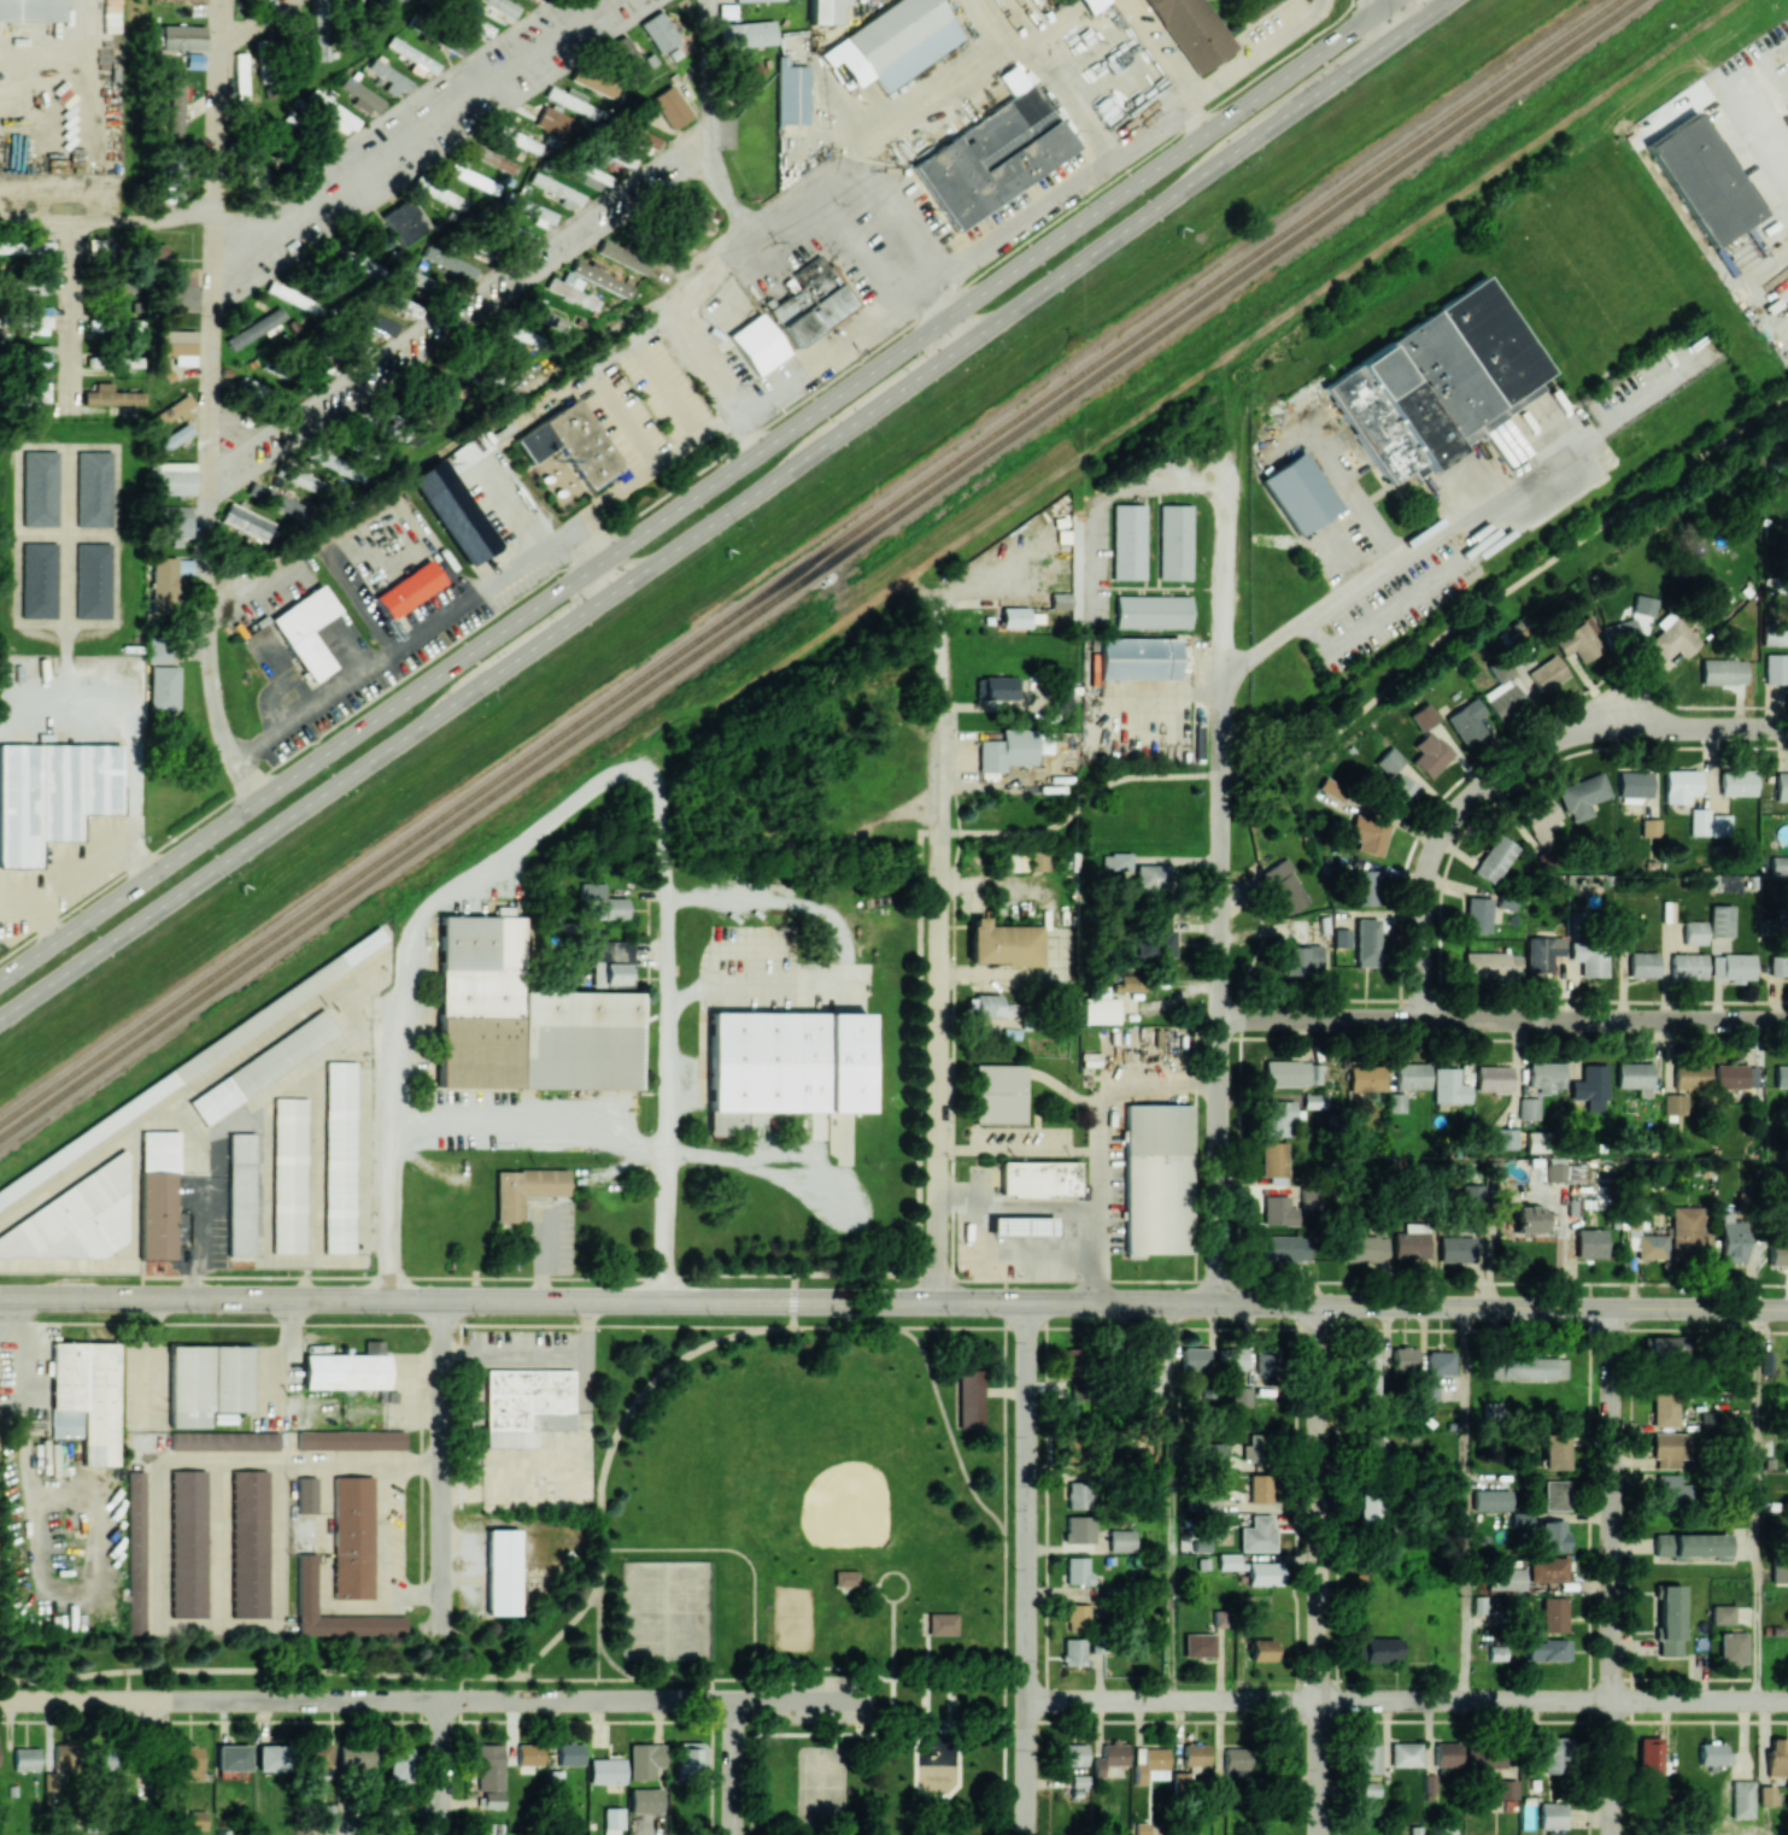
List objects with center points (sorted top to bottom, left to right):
building: (246, 0)
building: (745, 0)
building: (346, 2)
building: (1092, 4)
building: (30, 10)
building: (500, 10)
building: (825, 11)
road: (1391, 16)
road: (250, 19)
building: (658, 31)
building: (1194, 31)
building: (748, 34)
building: (182, 36)
building: (323, 39)
building: (892, 42)
building: (452, 43)
road: (43, 57)
building: (412, 57)
building: (627, 60)
road: (1161, 64)
building: (240, 76)
building: (750, 76)
building: (391, 77)
building: (593, 80)
building: (791, 92)
building: (360, 95)
building: (569, 99)
building: (175, 104)
building: (670, 106)
building: (330, 111)
building: (552, 121)
road: (708, 122)
road: (420, 125)
building: (637, 136)
road: (1761, 136)
building: (517, 137)
road: (1150, 152)
building: (617, 157)
building: (991, 157)
building: (493, 158)
building: (258, 170)
building: (473, 177)
building: (594, 178)
building: (174, 180)
building: (1701, 180)
building: (438, 189)
building: (558, 189)
building: (532, 209)
building: (691, 213)
road: (780, 218)
road: (107, 221)
building: (404, 222)
building: (512, 230)
building: (96, 245)
building: (25, 246)
building: (152, 250)
building: (623, 254)
building: (450, 262)
building: (363, 263)
building: (599, 277)
building: (570, 280)
building: (31, 281)
building: (424, 282)
building: (180, 292)
building: (571, 293)
building: (291, 295)
building: (809, 301)
building: (406, 307)
road: (459, 311)
road: (69, 312)
building: (545, 315)
building: (36, 317)
building: (375, 322)
building: (254, 328)
building: (522, 334)
building: (756, 344)
building: (177, 345)
building: (40, 353)
building: (94, 360)
road: (590, 374)
road: (782, 383)
building: (1437, 383)
building: (263, 392)
building: (111, 395)
road: (210, 404)
building: (171, 411)
building: (398, 424)
building: (174, 438)
building: (570, 442)
road: (440, 450)
building: (333, 461)
building: (174, 477)
building: (304, 480)
building: (93, 487)
building: (39, 488)
road: (693, 488)
building: (1299, 492)
building: (277, 500)
road: (1107, 500)
road: (723, 508)
building: (453, 511)
building: (247, 522)
building: (1784, 527)
building: (1129, 541)
building: (1173, 541)
road: (432, 544)
road: (599, 552)
railway: (808, 561)
railway: (819, 568)
road: (1361, 575)
building: (164, 579)
building: (39, 580)
building: (92, 580)
building: (408, 588)
road: (1503, 591)
building: (1059, 599)
building: (1642, 604)
building: (1151, 611)
building: (1014, 616)
road: (469, 629)
building: (304, 631)
building: (1620, 633)
building: (1774, 634)
building: (1671, 637)
building: (1579, 640)
building: (158, 650)
building: (1136, 657)
building: (1776, 668)
building: (1722, 670)
building: (1547, 673)
building: (164, 687)
building: (997, 687)
building: (1501, 691)
building: (1059, 697)
building: (1423, 716)
building: (1466, 721)
building: (1429, 754)
building: (1389, 761)
road: (1511, 767)
road: (1013, 782)
building: (1737, 782)
building: (1679, 785)
building: (1632, 786)
building: (1782, 786)
building: (1331, 788)
building: (1400, 793)
building: (52, 795)
building: (1582, 796)
building: (1540, 819)
building: (1699, 821)
building: (1720, 823)
building: (1649, 827)
building: (1368, 833)
building: (1494, 858)
building: (1036, 861)
building: (1119, 861)
building: (1010, 862)
building: (1778, 864)
building: (1153, 875)
building: (1284, 885)
building: (1362, 887)
road: (1220, 891)
road: (668, 895)
building: (602, 901)
building: (1477, 914)
building: (1720, 920)
building: (1297, 928)
building: (1694, 932)
building: (1341, 937)
building: (1003, 943)
building: (1155, 943)
building: (1366, 943)
building: (1540, 952)
road: (939, 955)
building: (1589, 957)
building: (1301, 958)
road: (919, 960)
building: (611, 962)
building: (1491, 965)
building: (1642, 965)
building: (1778, 965)
building: (1687, 966)
building: (1731, 967)
building: (987, 1006)
building: (1098, 1006)
building: (523, 1018)
road: (1503, 1020)
building: (784, 1065)
building: (263, 1066)
building: (1285, 1073)
building: (1411, 1075)
building: (1546, 1075)
building: (1690, 1075)
building: (1735, 1075)
building: (1781, 1075)
building: (1634, 1077)
building: (1365, 1078)
building: (1493, 1078)
building: (1448, 1086)
building: (1590, 1086)
road: (1130, 1090)
building: (998, 1094)
road: (664, 1096)
building: (1395, 1101)
building: (1673, 1103)
building: (1528, 1108)
building: (1279, 1116)
road: (394, 1120)
building: (1505, 1138)
building: (1536, 1141)
road: (1016, 1149)
building: (339, 1157)
building: (1273, 1159)
building: (1557, 1169)
building: (288, 1174)
building: (1039, 1178)
building: (1156, 1178)
building: (523, 1189)
building: (157, 1194)
building: (240, 1194)
road: (1016, 1202)
building: (1277, 1210)
building: (1528, 1218)
building: (74, 1219)
road: (1096, 1225)
building: (1021, 1226)
building: (1688, 1230)
building: (1729, 1238)
building: (1589, 1242)
building: (1411, 1244)
building: (1284, 1247)
building: (1651, 1247)
building: (1365, 1248)
building: (1456, 1248)
building: (1777, 1253)
road: (893, 1298)
road: (385, 1323)
road: (908, 1325)
building: (1666, 1347)
building: (1148, 1358)
building: (1194, 1358)
building: (1403, 1358)
building: (1232, 1359)
building: (1440, 1362)
building: (1266, 1364)
building: (1526, 1367)
building: (347, 1368)
building: (1368, 1372)
building: (206, 1382)
building: (1428, 1390)
building: (1241, 1396)
building: (86, 1397)
building: (972, 1397)
building: (527, 1403)
building: (1664, 1408)
road: (946, 1427)
building: (223, 1440)
building: (350, 1440)
building: (1370, 1444)
building: (1071, 1447)
building: (1254, 1448)
building: (1670, 1449)
building: (1554, 1452)
building: (1204, 1454)
road: (440, 1466)
building: (1259, 1489)
building: (1671, 1491)
building: (305, 1494)
building: (1077, 1495)
building: (1555, 1495)
building: (1490, 1499)
building: (1201, 1501)
road: (1173, 1502)
road: (1465, 1503)
road: (1755, 1505)
building: (1370, 1507)
building: (1078, 1529)
building: (1256, 1534)
building: (1550, 1535)
building: (352, 1536)
building: (1120, 1540)
building: (187, 1543)
building: (248, 1543)
building: (1689, 1543)
building: (135, 1552)
park: (817, 1553)
building: (1230, 1561)
road: (1004, 1567)
road: (1026, 1567)
building: (1547, 1569)
building: (1778, 1569)
building: (1077, 1570)
road: (1320, 1570)
building: (502, 1571)
road: (1610, 1571)
building: (1264, 1573)
building: (845, 1576)
building: (1505, 1578)
building: (305, 1583)
road: (868, 1584)
road: (903, 1594)
park: (667, 1608)
park: (667, 1608)
building: (1722, 1613)
building: (1553, 1614)
park: (792, 1616)
building: (1078, 1617)
building: (1667, 1619)
road: (754, 1620)
building: (943, 1623)
road: (598, 1635)
road: (892, 1642)
building: (1198, 1645)
building: (1731, 1648)
building: (1260, 1649)
building: (1380, 1649)
building: (1547, 1649)
building: (1073, 1651)
building: (1496, 1652)
road: (597, 1658)
road: (517, 1667)
road: (889, 1677)
road: (628, 1678)
road: (166, 1683)
road: (128, 1684)
road: (418, 1685)
road: (459, 1687)
road: (710, 1689)
road: (365, 1699)
road: (804, 1699)
parking lot: (816, 1699)
road: (948, 1700)
road: (1407, 1701)
road: (903, 1708)
road: (887, 1722)
road: (892, 1743)
building: (528, 1753)
building: (313, 1754)
building: (569, 1754)
building: (1072, 1754)
building: (1195, 1754)
building: (1405, 1754)
building: (1554, 1754)
building: (1712, 1754)
building: (354, 1755)
building: (690, 1755)
building: (1446, 1755)
building: (1648, 1755)
building: (231, 1757)
building: (270, 1757)
building: (1109, 1757)
building: (25, 1758)
building: (105, 1758)
building: (1367, 1758)
building: (1485, 1758)
building: (1776, 1758)
building: (646, 1760)
building: (1236, 1761)
building: (189, 1763)
building: (1149, 1764)
building: (400, 1765)
road: (148, 1766)
road: (440, 1766)
road: (732, 1767)
building: (59, 1770)
building: (605, 1770)
building: (489, 1774)
building: (1429, 1783)
park: (821, 1784)
building: (1370, 1788)
building: (1505, 1788)
road: (898, 1789)
building: (1765, 1794)
building: (1741, 1799)
building: (645, 1800)
building: (1552, 1815)
building: (197, 1819)
building: (612, 1821)
building: (1139, 1828)

